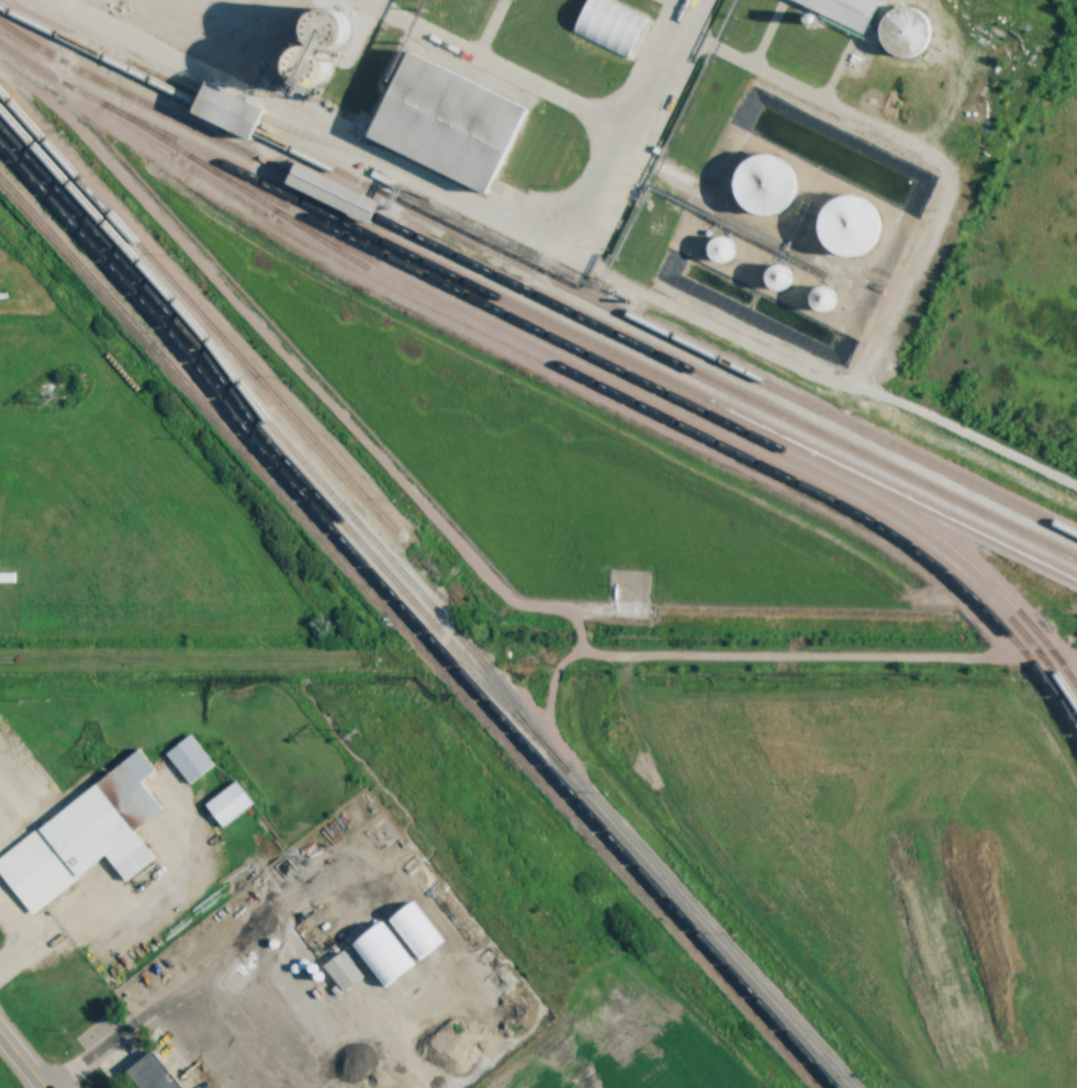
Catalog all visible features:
building: (908, 32)
road: (502, 67)
building: (232, 111)
building: (453, 123)
road: (425, 182)
building: (769, 184)
building: (359, 205)
building: (853, 226)
power tower: (51, 400)
railway: (418, 615)
road: (834, 659)
road: (186, 660)
power tower: (355, 734)
building: (190, 759)
building: (228, 804)
building: (85, 837)
road: (55, 938)
building: (344, 971)
road: (183, 998)
road: (18, 1065)
building: (154, 1073)

